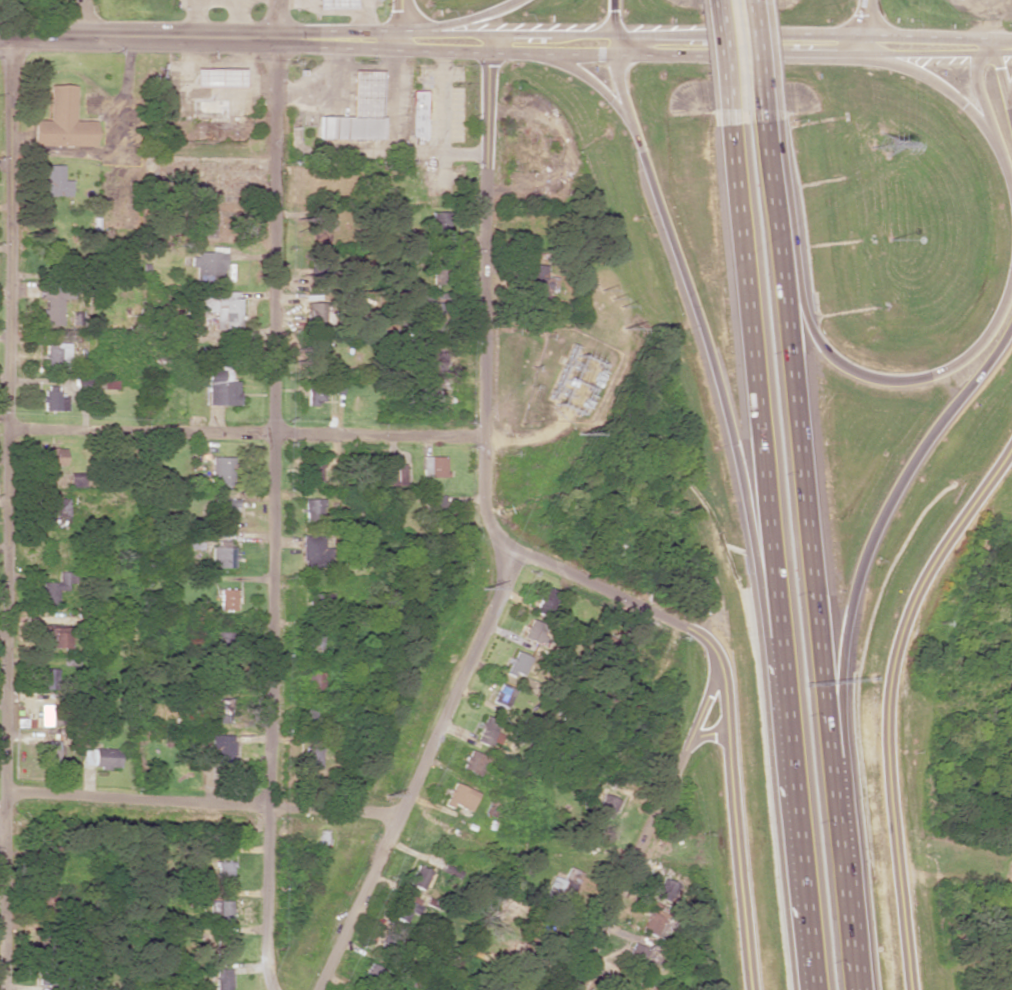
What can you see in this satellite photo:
building: (333, 4)
road: (82, 18)
road: (465, 19)
road: (398, 20)
road: (866, 28)
road: (455, 34)
road: (666, 34)
road: (199, 37)
road: (406, 37)
road: (924, 37)
road: (703, 56)
building: (218, 78)
road: (587, 79)
road: (1001, 80)
road: (759, 82)
road: (729, 85)
road: (977, 86)
road: (971, 109)
building: (357, 111)
building: (417, 114)
building: (61, 122)
power tower: (886, 143)
building: (54, 182)
building: (321, 207)
building: (440, 221)
building: (318, 264)
building: (208, 265)
building: (538, 283)
building: (429, 305)
building: (219, 308)
building: (315, 315)
building: (55, 356)
building: (316, 361)
road: (718, 362)
power substation: (568, 376)
road: (888, 378)
building: (108, 381)
building: (82, 384)
building: (221, 386)
building: (337, 387)
building: (314, 392)
building: (53, 399)
road: (483, 420)
road: (245, 432)
building: (55, 456)
building: (432, 466)
building: (222, 470)
building: (312, 470)
building: (392, 474)
building: (76, 482)
road: (273, 495)
building: (226, 509)
building: (54, 510)
building: (311, 510)
road: (7, 512)
building: (433, 512)
road: (870, 538)
building: (313, 553)
building: (222, 556)
road: (810, 577)
road: (781, 579)
building: (56, 587)
building: (226, 600)
building: (545, 603)
building: (318, 604)
building: (533, 632)
building: (54, 637)
building: (225, 640)
building: (312, 640)
building: (517, 664)
building: (48, 679)
building: (314, 682)
road: (885, 698)
building: (218, 712)
building: (52, 715)
building: (312, 717)
building: (493, 717)
road: (707, 735)
building: (219, 749)
building: (50, 751)
building: (312, 757)
building: (100, 758)
building: (473, 763)
road: (418, 773)
building: (459, 798)
road: (201, 804)
building: (604, 806)
road: (645, 829)
road: (735, 829)
road: (2, 837)
building: (48, 862)
building: (223, 871)
building: (417, 877)
building: (562, 886)
building: (680, 890)
building: (49, 899)
building: (404, 907)
building: (656, 907)
building: (219, 910)
building: (387, 941)
building: (222, 945)
building: (635, 956)
building: (223, 978)
building: (376, 979)

